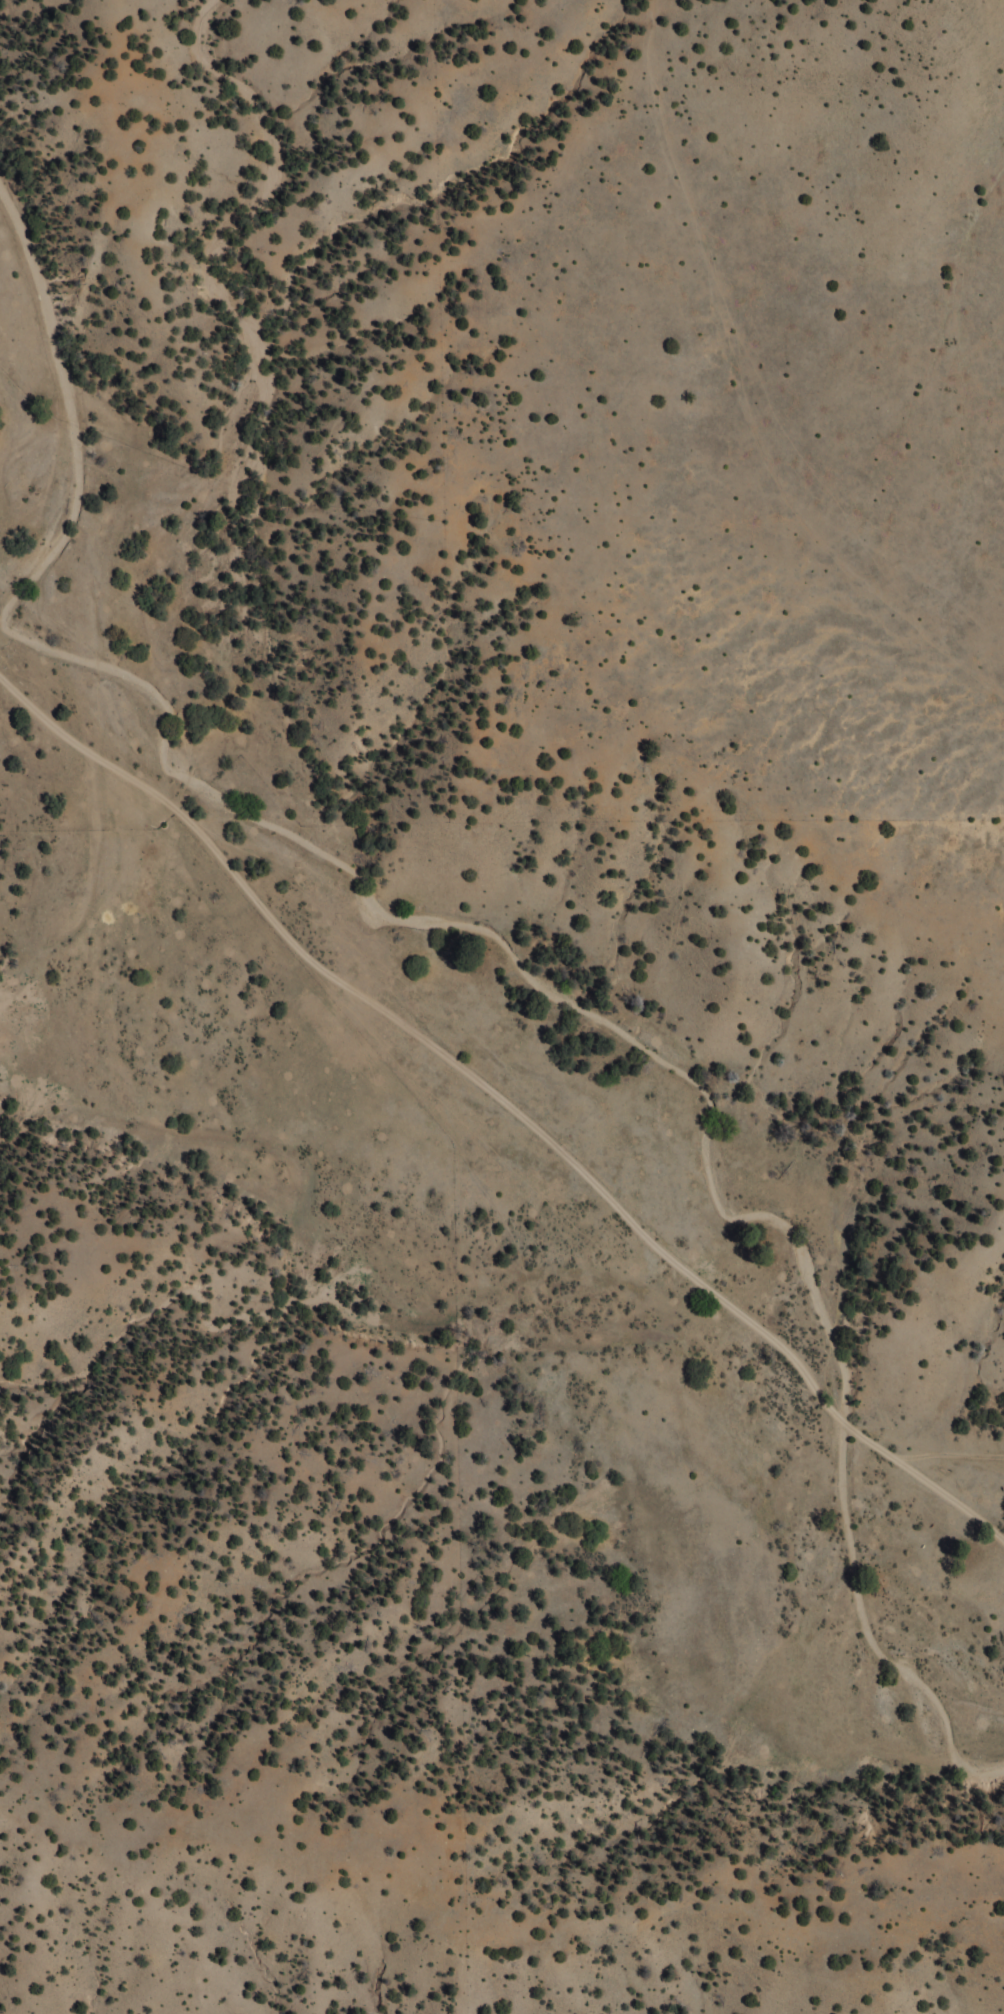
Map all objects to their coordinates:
road: (734, 395)
road: (507, 1106)

